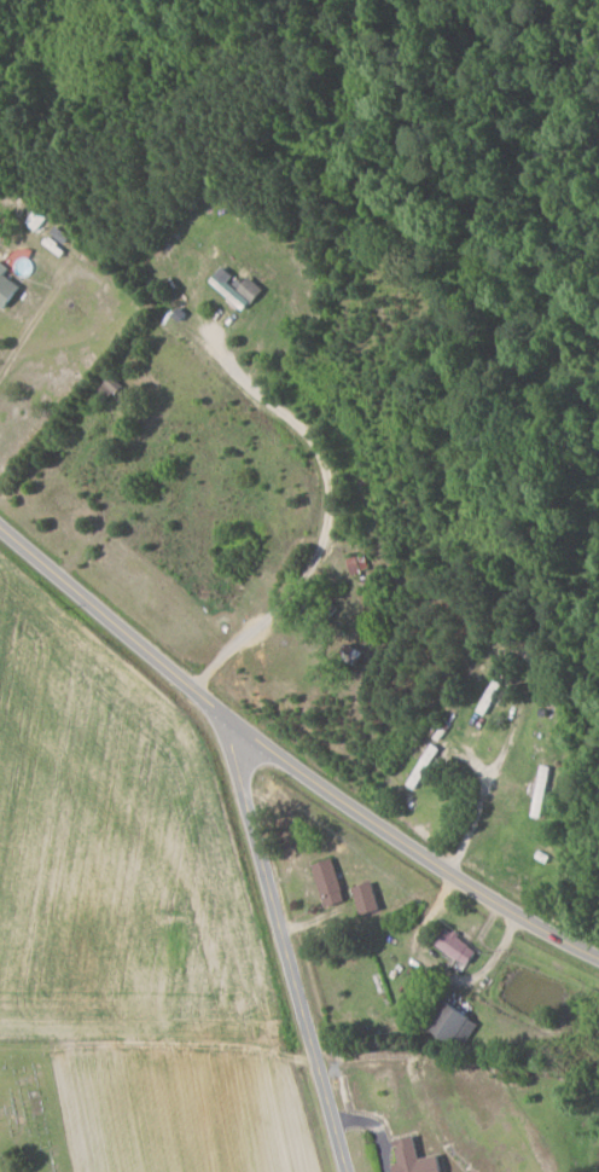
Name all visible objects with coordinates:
building: (37, 219)
building: (7, 286)
building: (239, 288)
road: (27, 332)
road: (326, 517)
road: (283, 765)
road: (493, 778)
building: (331, 881)
building: (368, 898)
building: (458, 946)
road: (281, 947)
building: (454, 1023)
park: (28, 1112)
building: (417, 1158)

